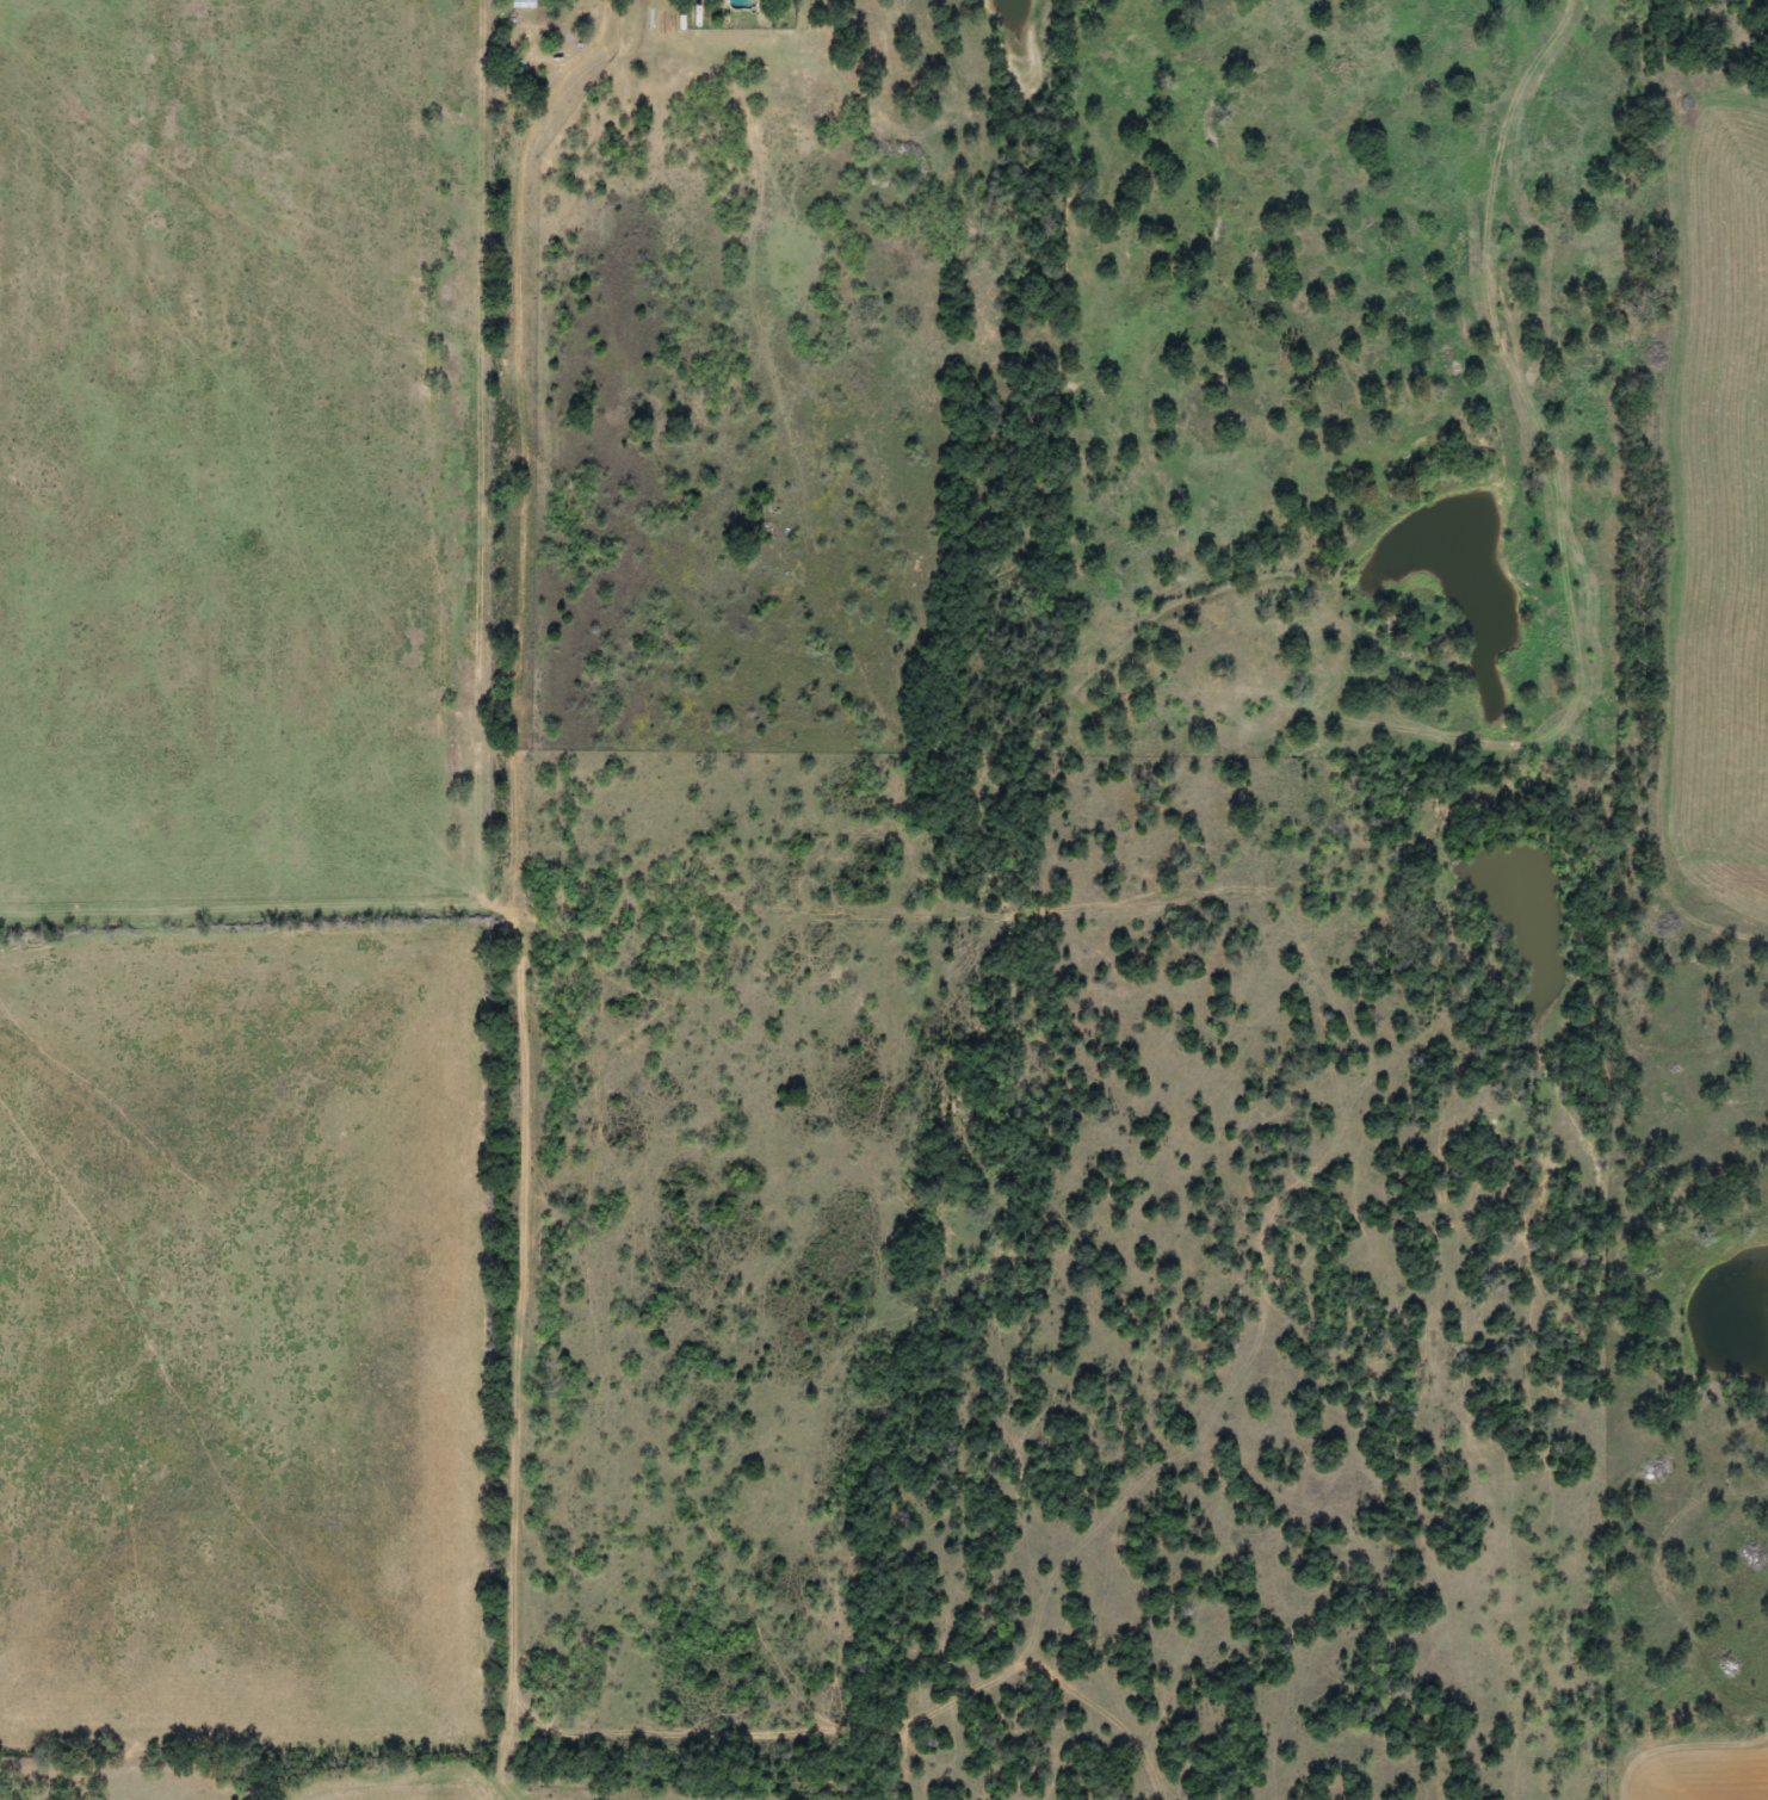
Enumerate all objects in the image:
road: (1479, 354)

